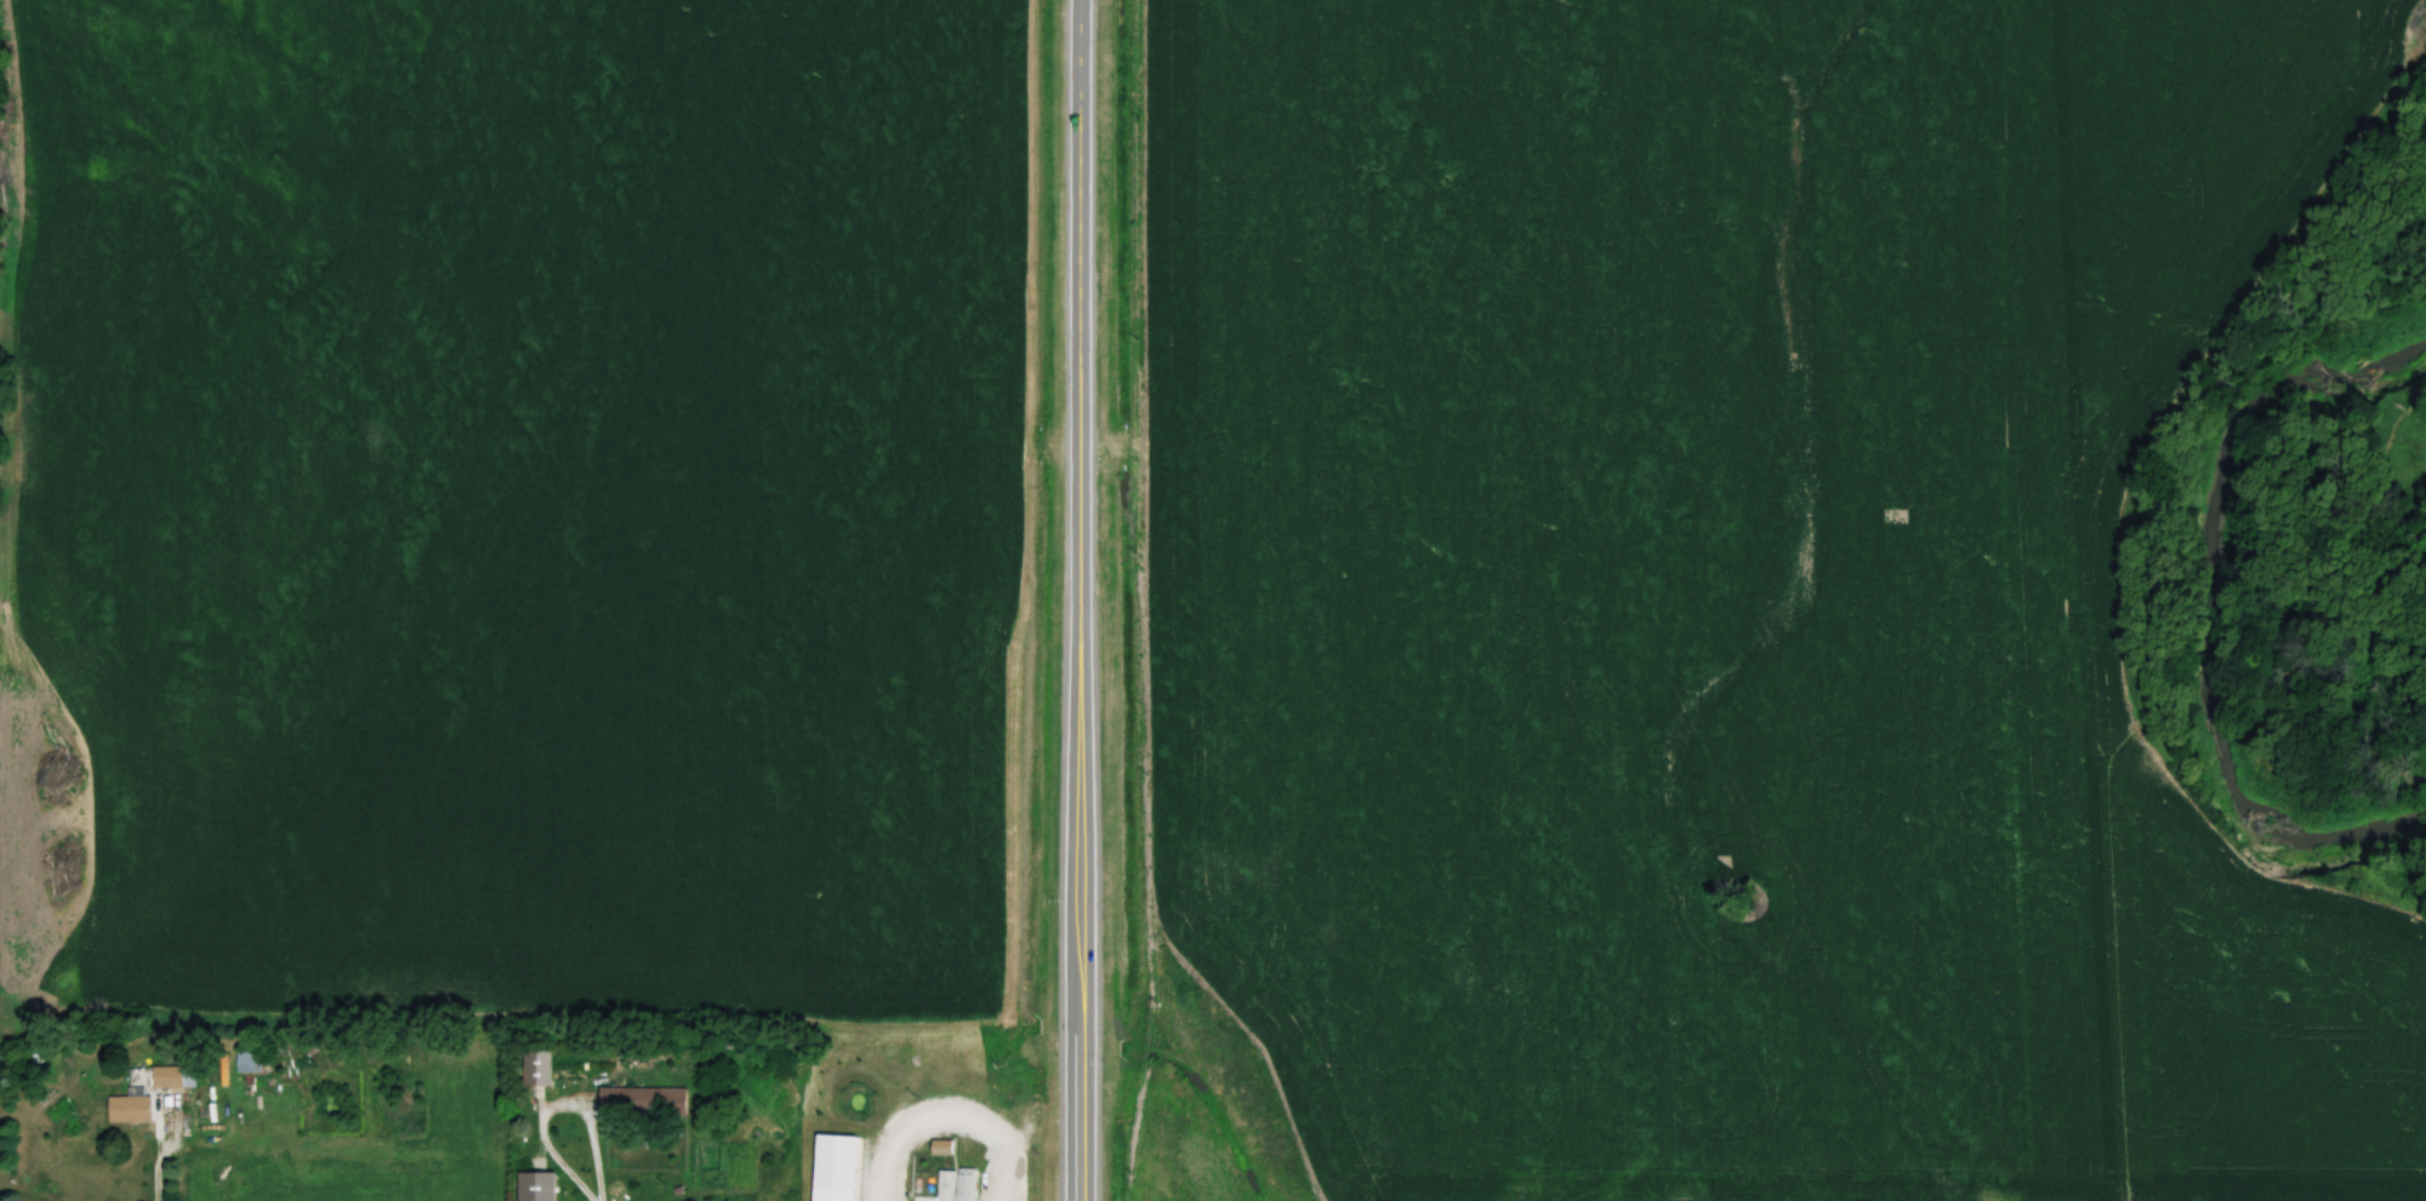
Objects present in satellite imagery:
road: (1083, 600)
river: (2215, 614)
building: (249, 1061)
building: (536, 1069)
building: (172, 1077)
building: (628, 1102)
road: (559, 1108)
building: (129, 1109)
road: (957, 1120)
building: (853, 1152)
road: (159, 1166)
building: (956, 1185)
building: (536, 1188)

